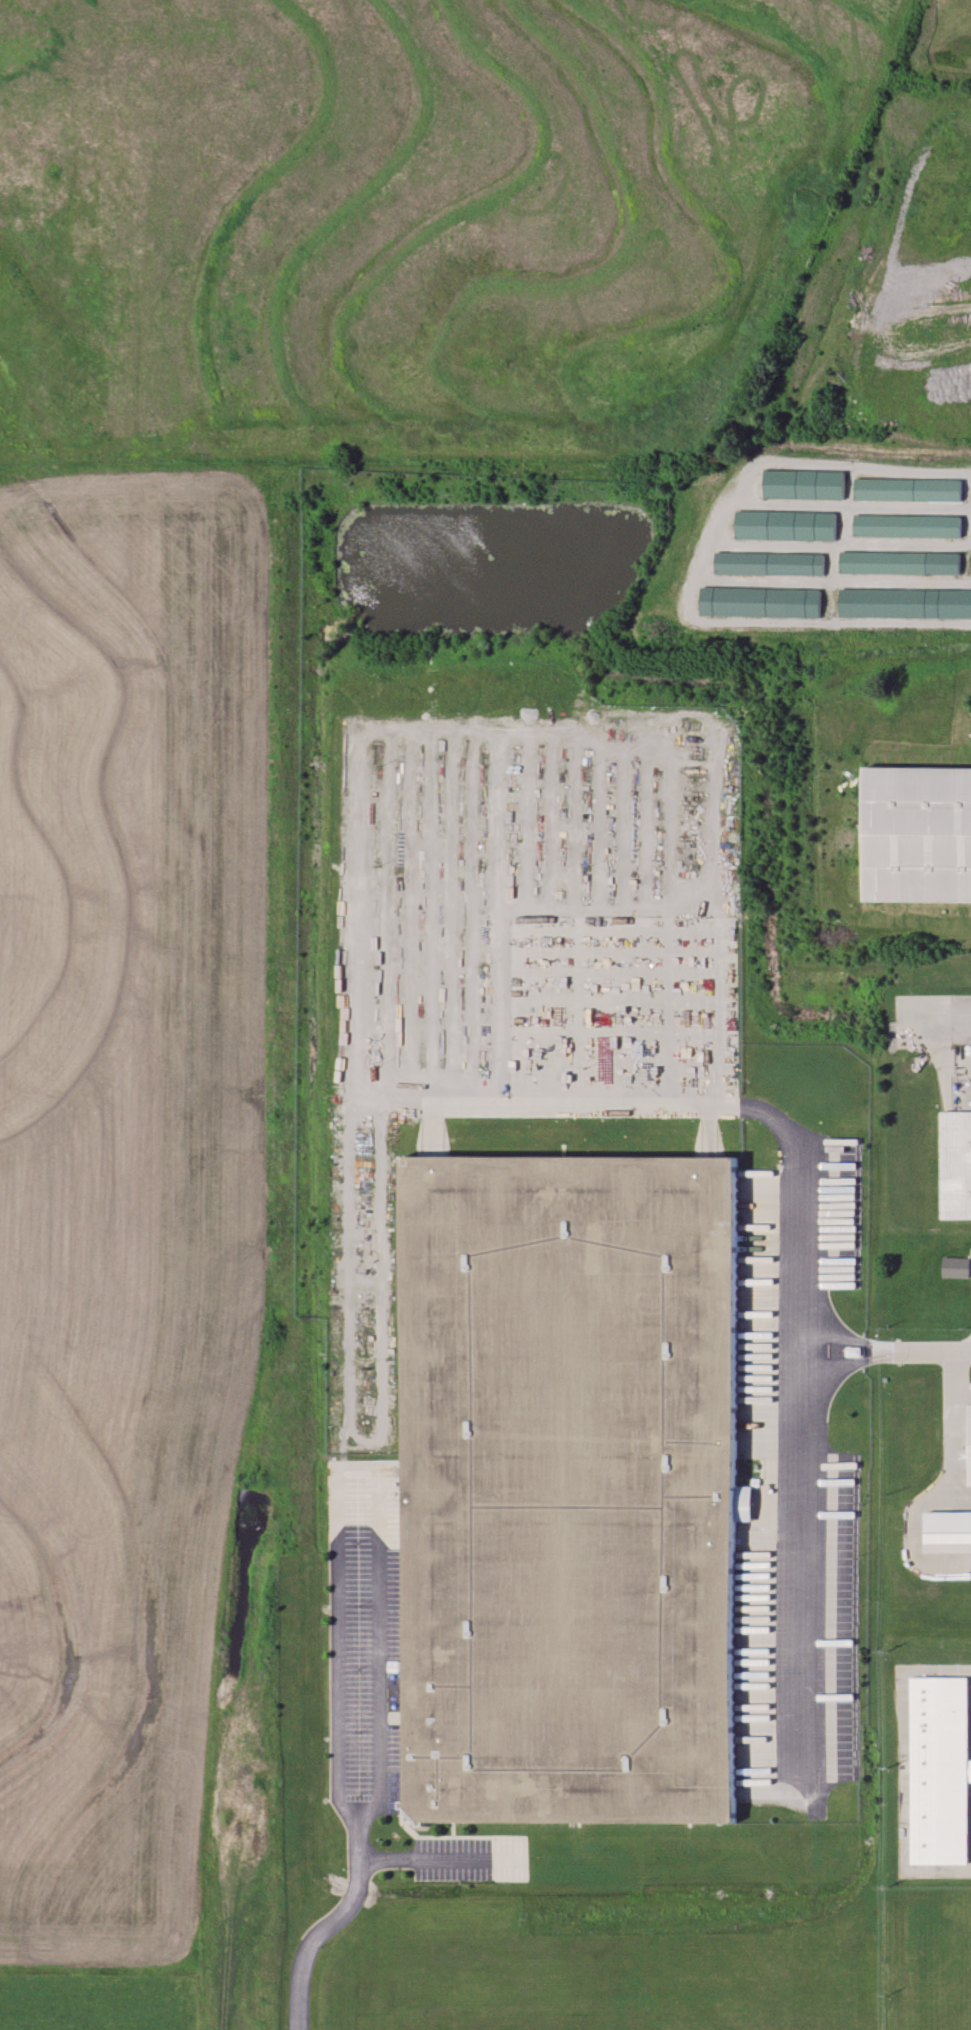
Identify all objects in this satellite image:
building: (803, 485)
building: (906, 490)
building: (784, 526)
building: (906, 527)
building: (898, 564)
building: (768, 565)
building: (743, 603)
building: (916, 835)
building: (955, 1164)
crop: (126, 1176)
building: (955, 1268)
road: (963, 1348)
road: (910, 1350)
road: (962, 1394)
road: (953, 1425)
building: (970, 1444)
building: (569, 1490)
building: (947, 1531)
road: (913, 1537)
building: (939, 1770)
building: (506, 1862)

